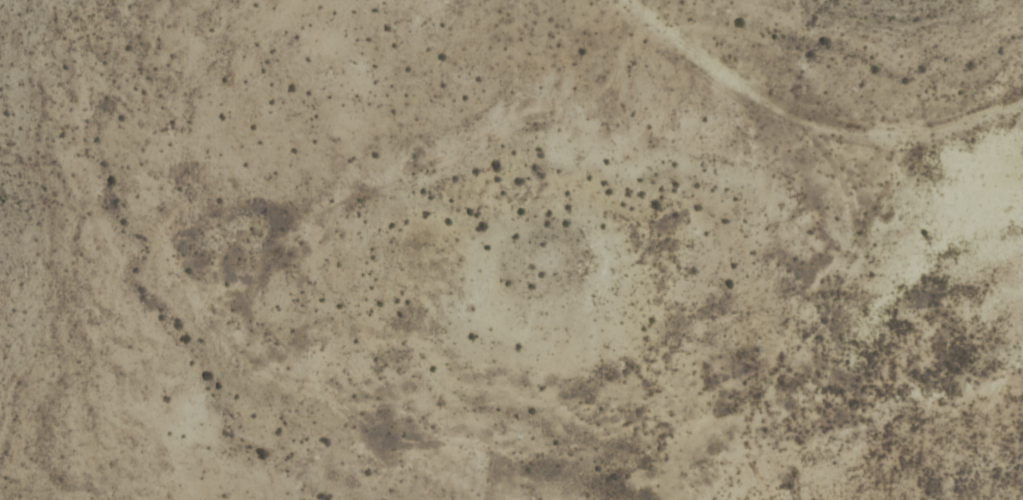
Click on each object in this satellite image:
road: (810, 117)
park: (511, 250)

